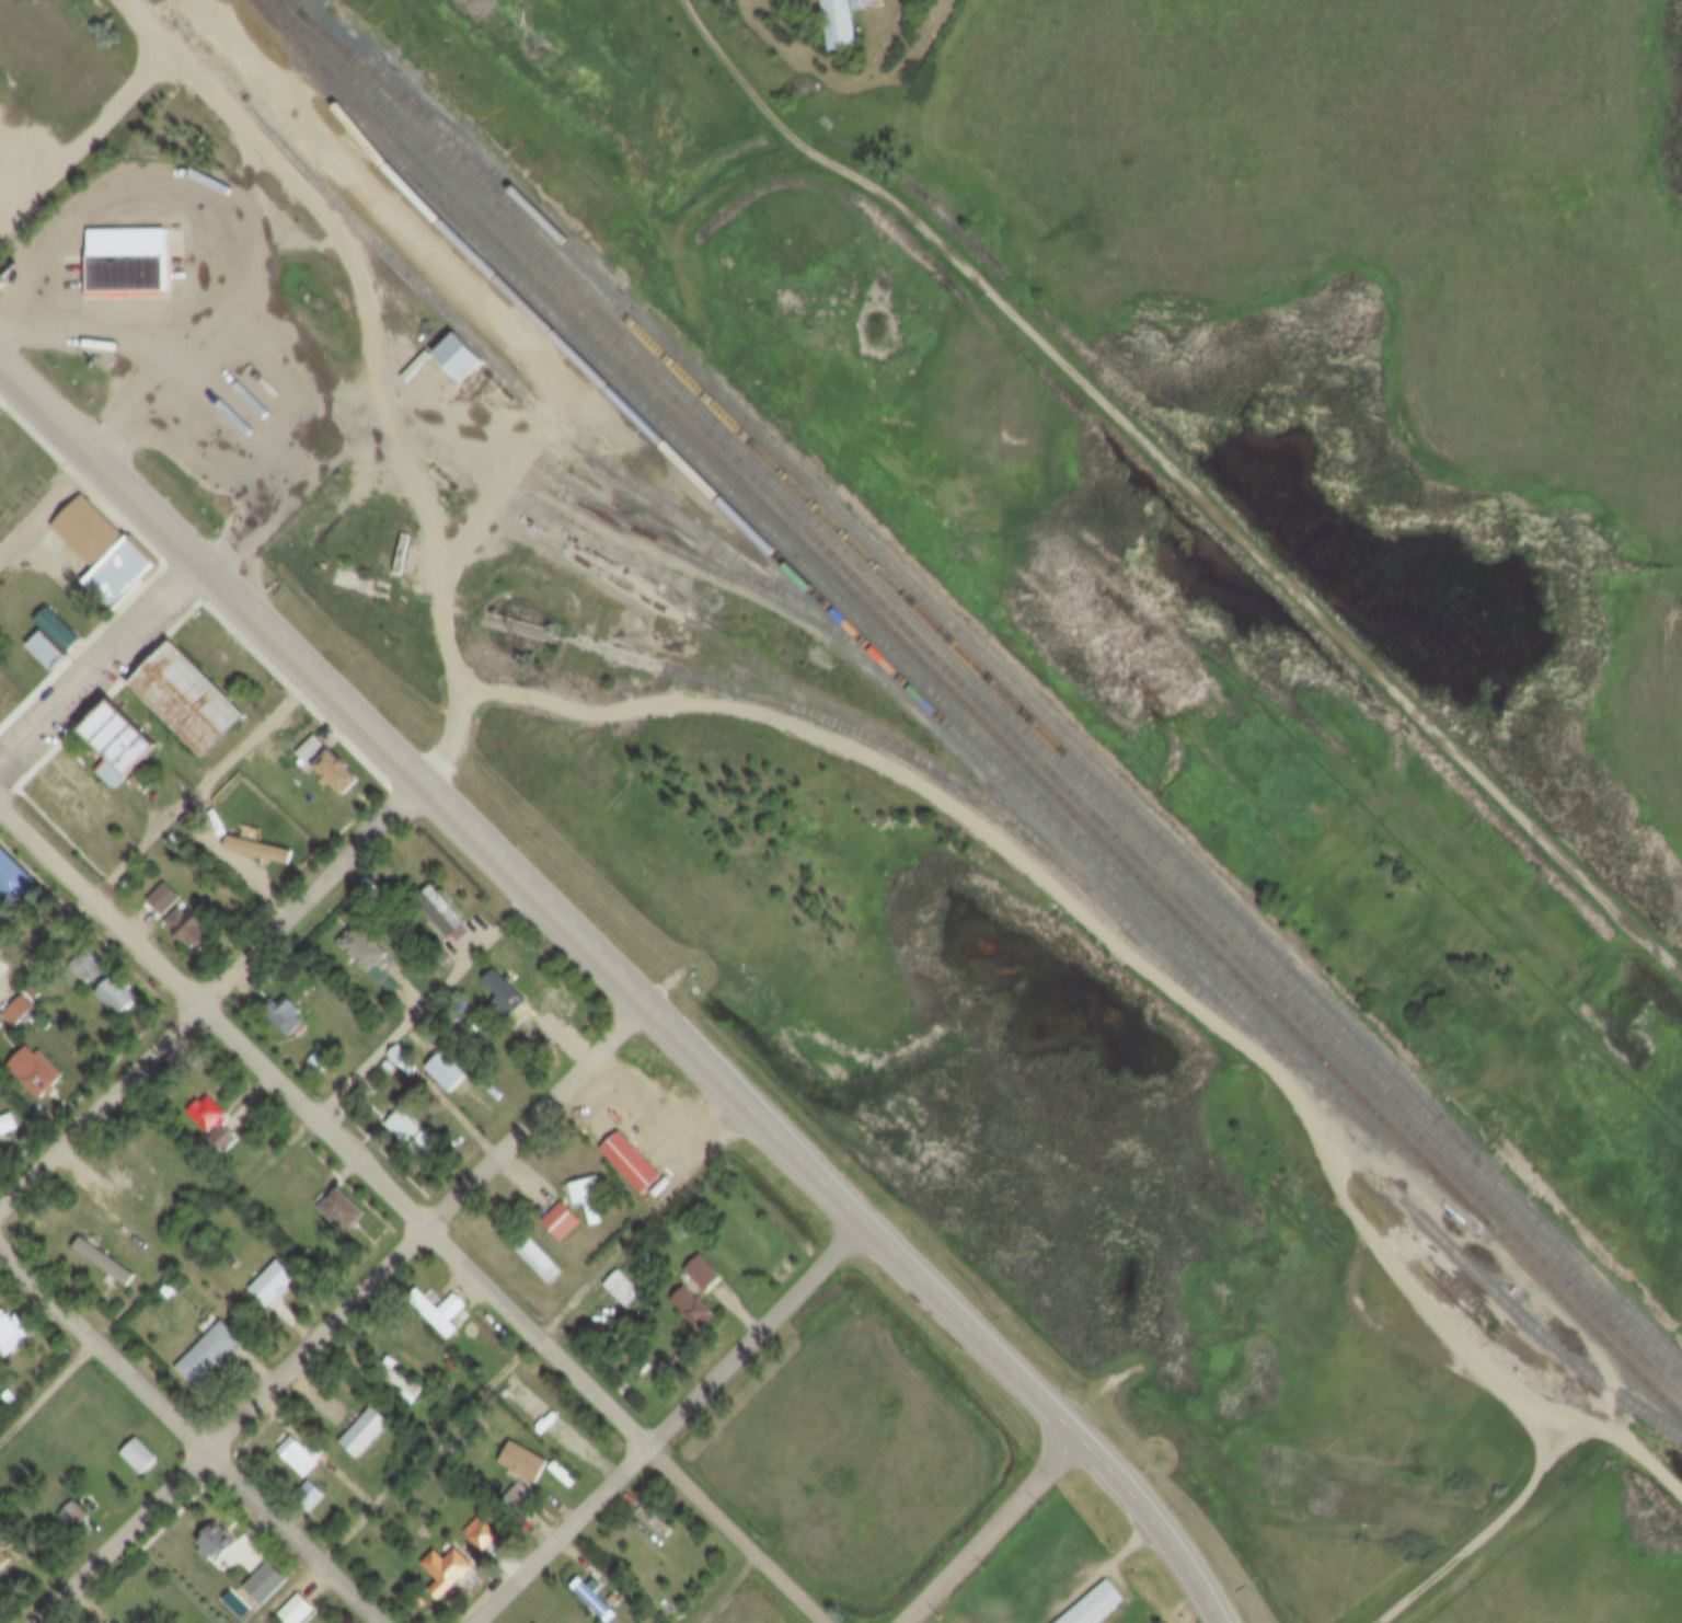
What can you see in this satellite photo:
building: (844, 21)
road: (87, 146)
road: (119, 202)
road: (698, 220)
building: (128, 264)
road: (360, 279)
road: (211, 343)
building: (462, 360)
railway: (533, 400)
building: (1, 417)
building: (0, 422)
road: (1184, 485)
railway: (627, 487)
road: (48, 516)
road: (484, 528)
building: (106, 553)
railway: (776, 554)
railway: (704, 561)
railway: (901, 574)
railway: (848, 610)
building: (60, 631)
road: (983, 641)
building: (51, 649)
road: (103, 677)
railway: (713, 680)
railway: (990, 694)
railway: (977, 699)
building: (192, 701)
railway: (968, 710)
railway: (1024, 713)
building: (125, 737)
railway: (907, 748)
building: (334, 766)
building: (115, 773)
road: (157, 840)
building: (174, 840)
building: (261, 850)
building: (14, 876)
building: (165, 900)
building: (448, 912)
building: (193, 930)
road: (1103, 940)
railway: (1132, 947)
building: (373, 957)
building: (111, 982)
road: (626, 986)
building: (507, 988)
road: (212, 1002)
building: (20, 1013)
building: (290, 1018)
building: (41, 1025)
building: (404, 1056)
building: (324, 1064)
building: (453, 1071)
building: (36, 1073)
building: (0, 1092)
building: (216, 1125)
building: (9, 1126)
building: (411, 1131)
building: (632, 1164)
road: (268, 1173)
building: (588, 1197)
building: (345, 1211)
road: (411, 1215)
building: (563, 1222)
building: (535, 1256)
building: (107, 1264)
building: (703, 1275)
building: (277, 1284)
building: (624, 1290)
building: (693, 1310)
building: (443, 1313)
road: (347, 1315)
road: (1368, 1322)
railway: (1525, 1325)
building: (15, 1330)
building: (212, 1355)
road: (516, 1372)
building: (398, 1379)
road: (677, 1425)
building: (368, 1434)
road: (188, 1438)
building: (142, 1457)
building: (303, 1457)
road: (1646, 1460)
building: (525, 1461)
building: (311, 1497)
building: (518, 1498)
building: (76, 1518)
building: (655, 1522)
road: (1500, 1529)
road: (998, 1531)
building: (482, 1534)
building: (217, 1543)
building: (8, 1551)
building: (450, 1568)
building: (267, 1584)
building: (595, 1601)
building: (1097, 1605)
building: (297, 1612)

